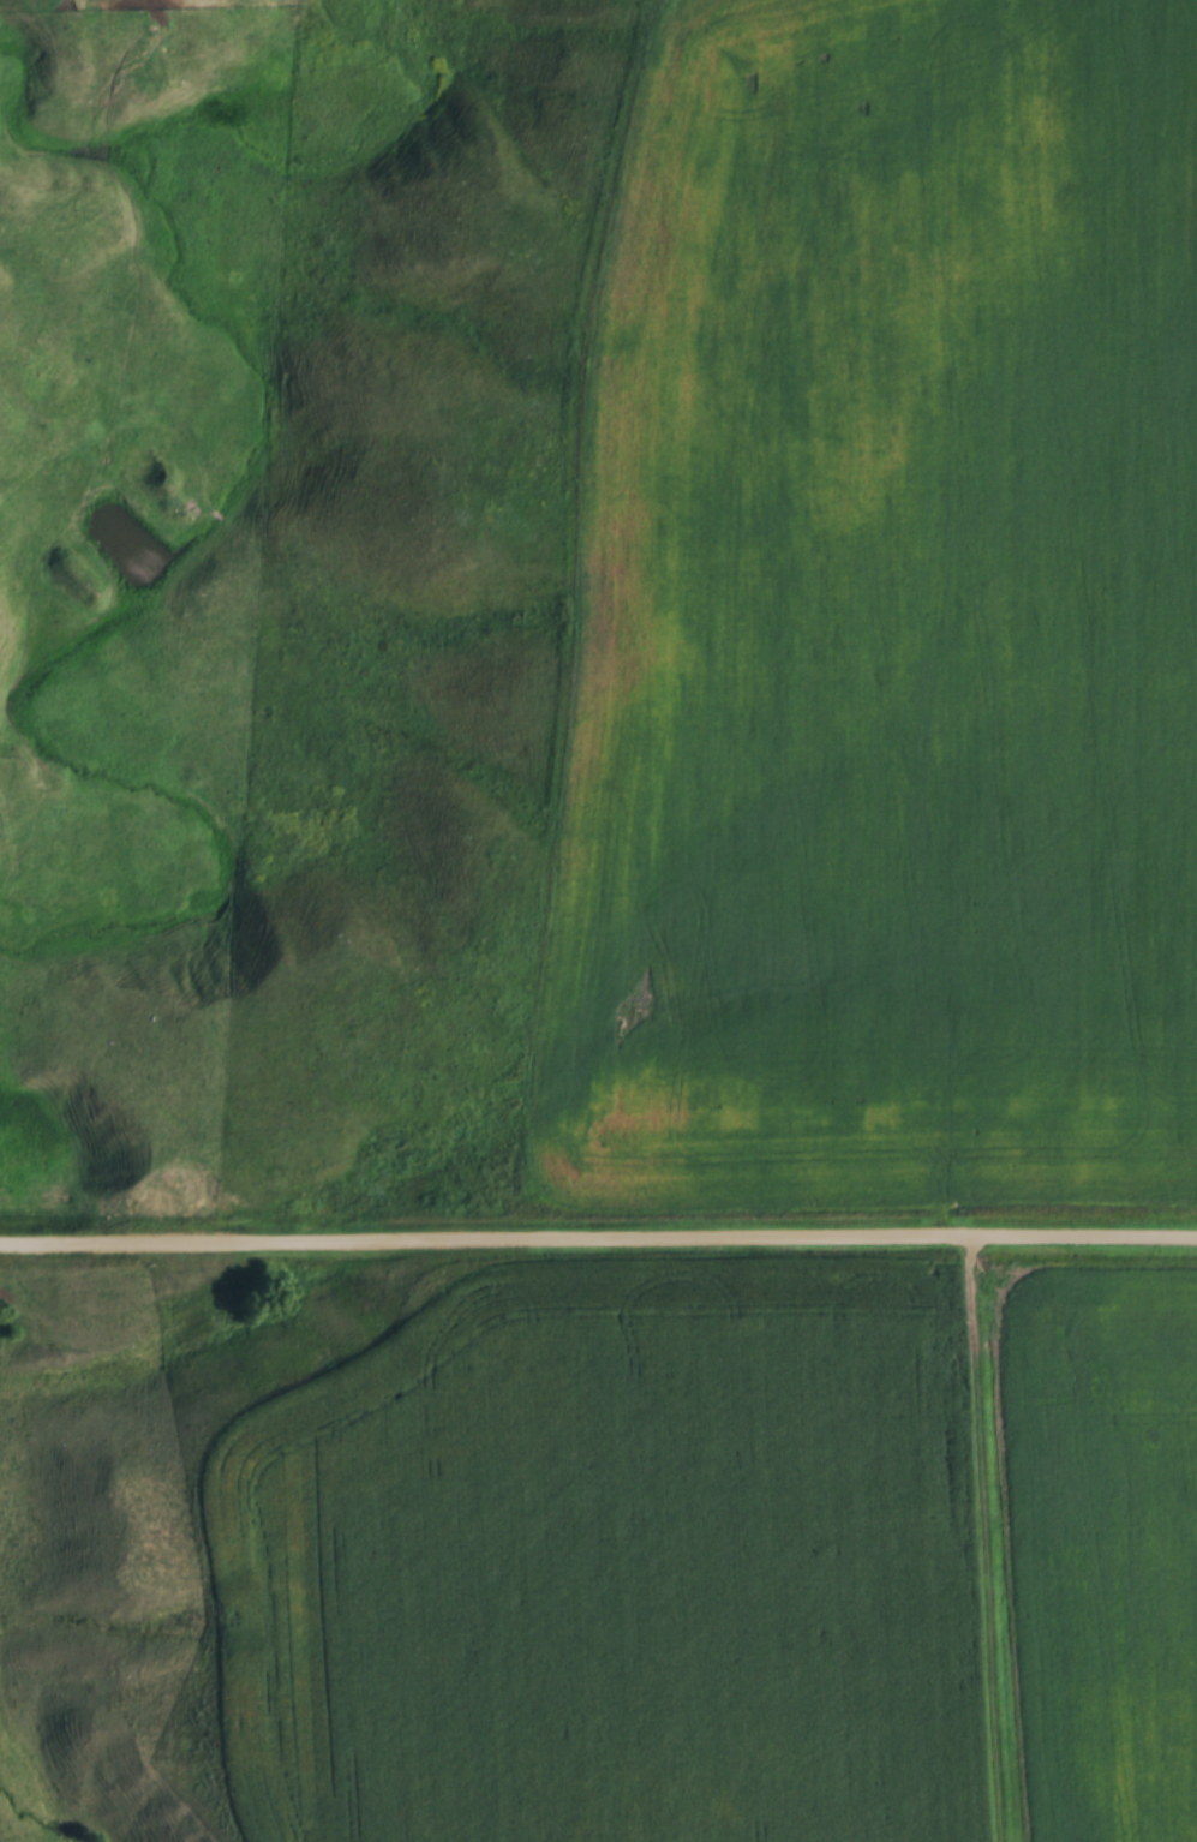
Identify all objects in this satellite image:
road: (598, 1236)
road: (986, 1536)

